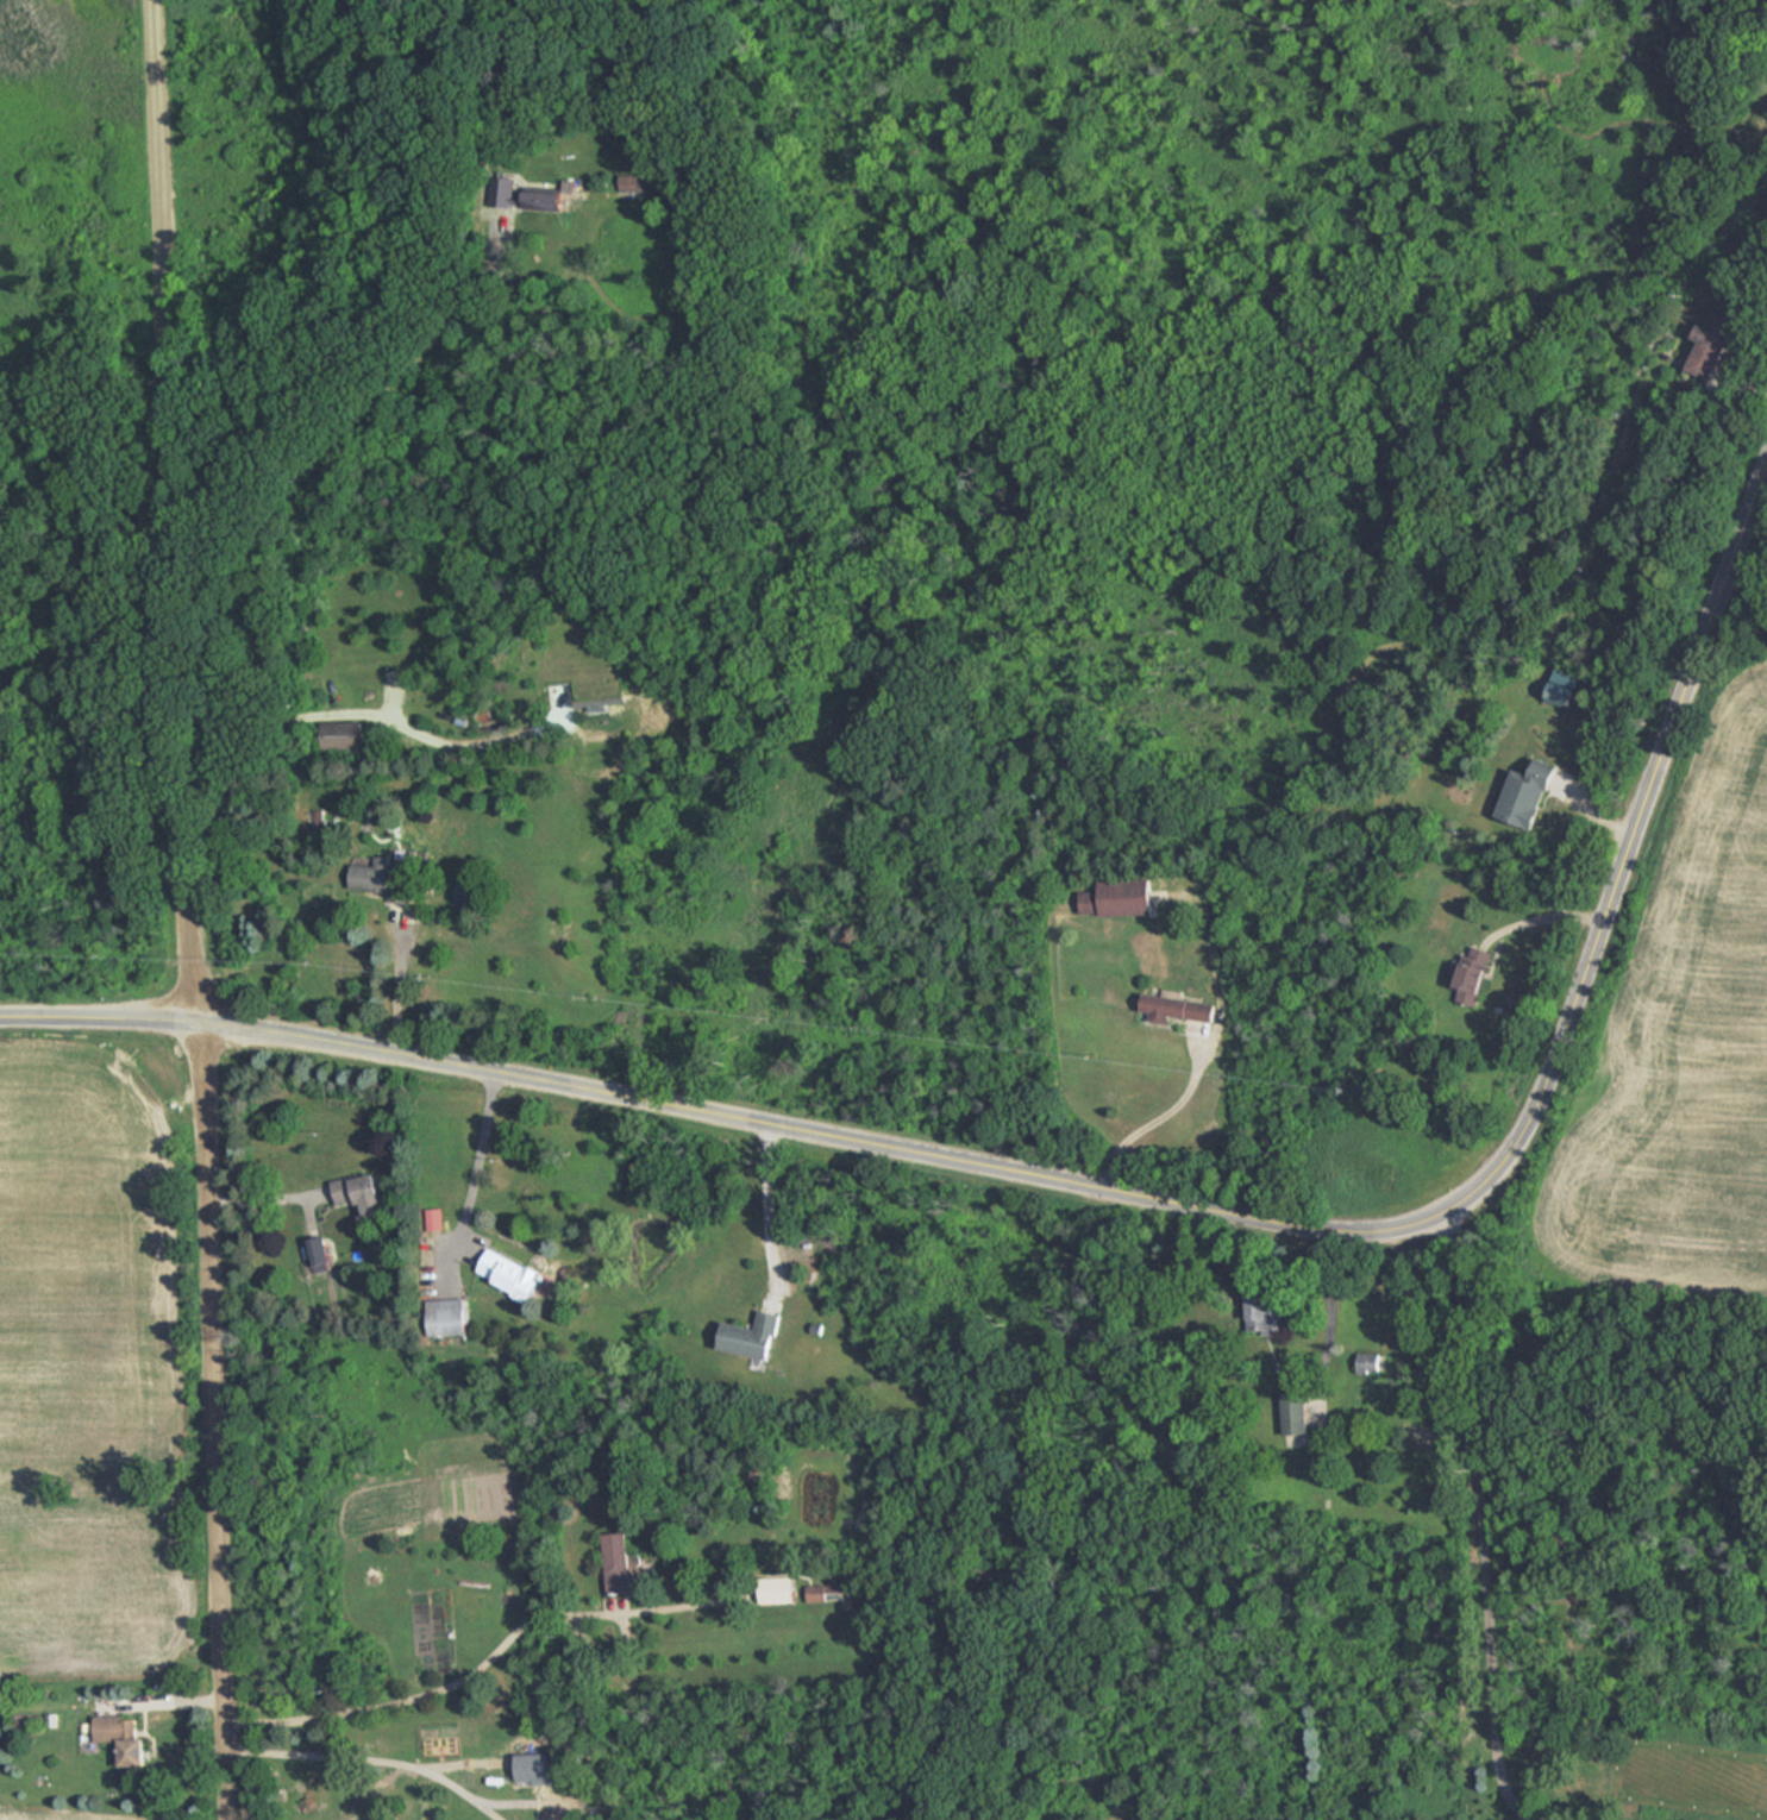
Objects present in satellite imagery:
building: (629, 182)
building: (527, 196)
building: (1715, 346)
road: (365, 358)
park: (79, 559)
building: (1566, 684)
road: (351, 709)
building: (340, 735)
building: (1530, 793)
building: (381, 880)
building: (465, 891)
building: (1119, 898)
road: (192, 909)
building: (1477, 975)
road: (397, 985)
building: (1179, 1009)
road: (1153, 1124)
road: (476, 1165)
building: (356, 1188)
road: (265, 1193)
road: (1129, 1194)
road: (771, 1211)
building: (433, 1217)
building: (317, 1254)
building: (509, 1272)
road: (1335, 1310)
building: (1267, 1313)
building: (447, 1316)
building: (754, 1335)
building: (1370, 1362)
building: (1297, 1412)
road: (1481, 1524)
building: (618, 1562)
building: (777, 1589)
building: (823, 1592)
road: (432, 1694)
building: (123, 1734)
road: (370, 1761)
building: (534, 1769)

